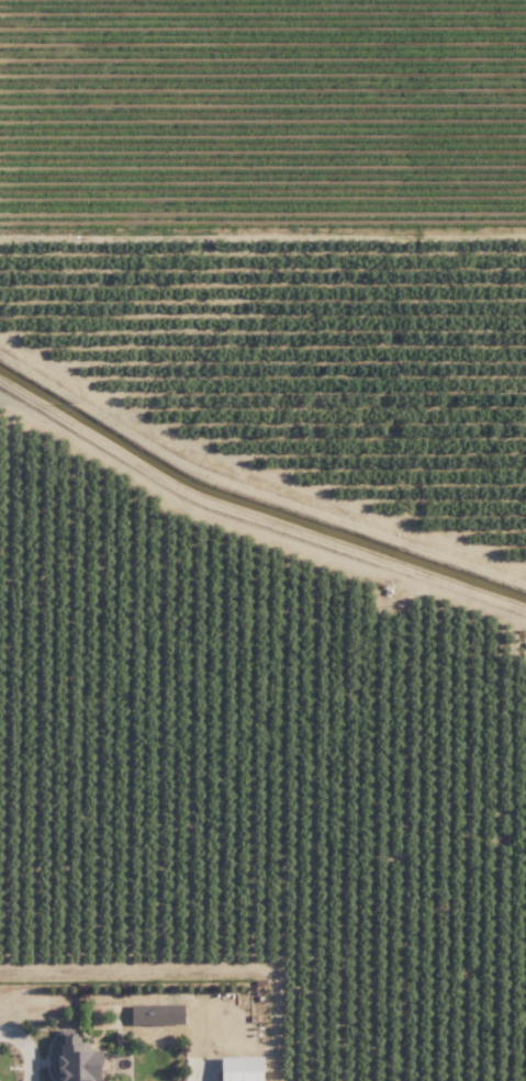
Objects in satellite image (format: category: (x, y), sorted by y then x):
building: (76, 1060)
building: (244, 1068)

